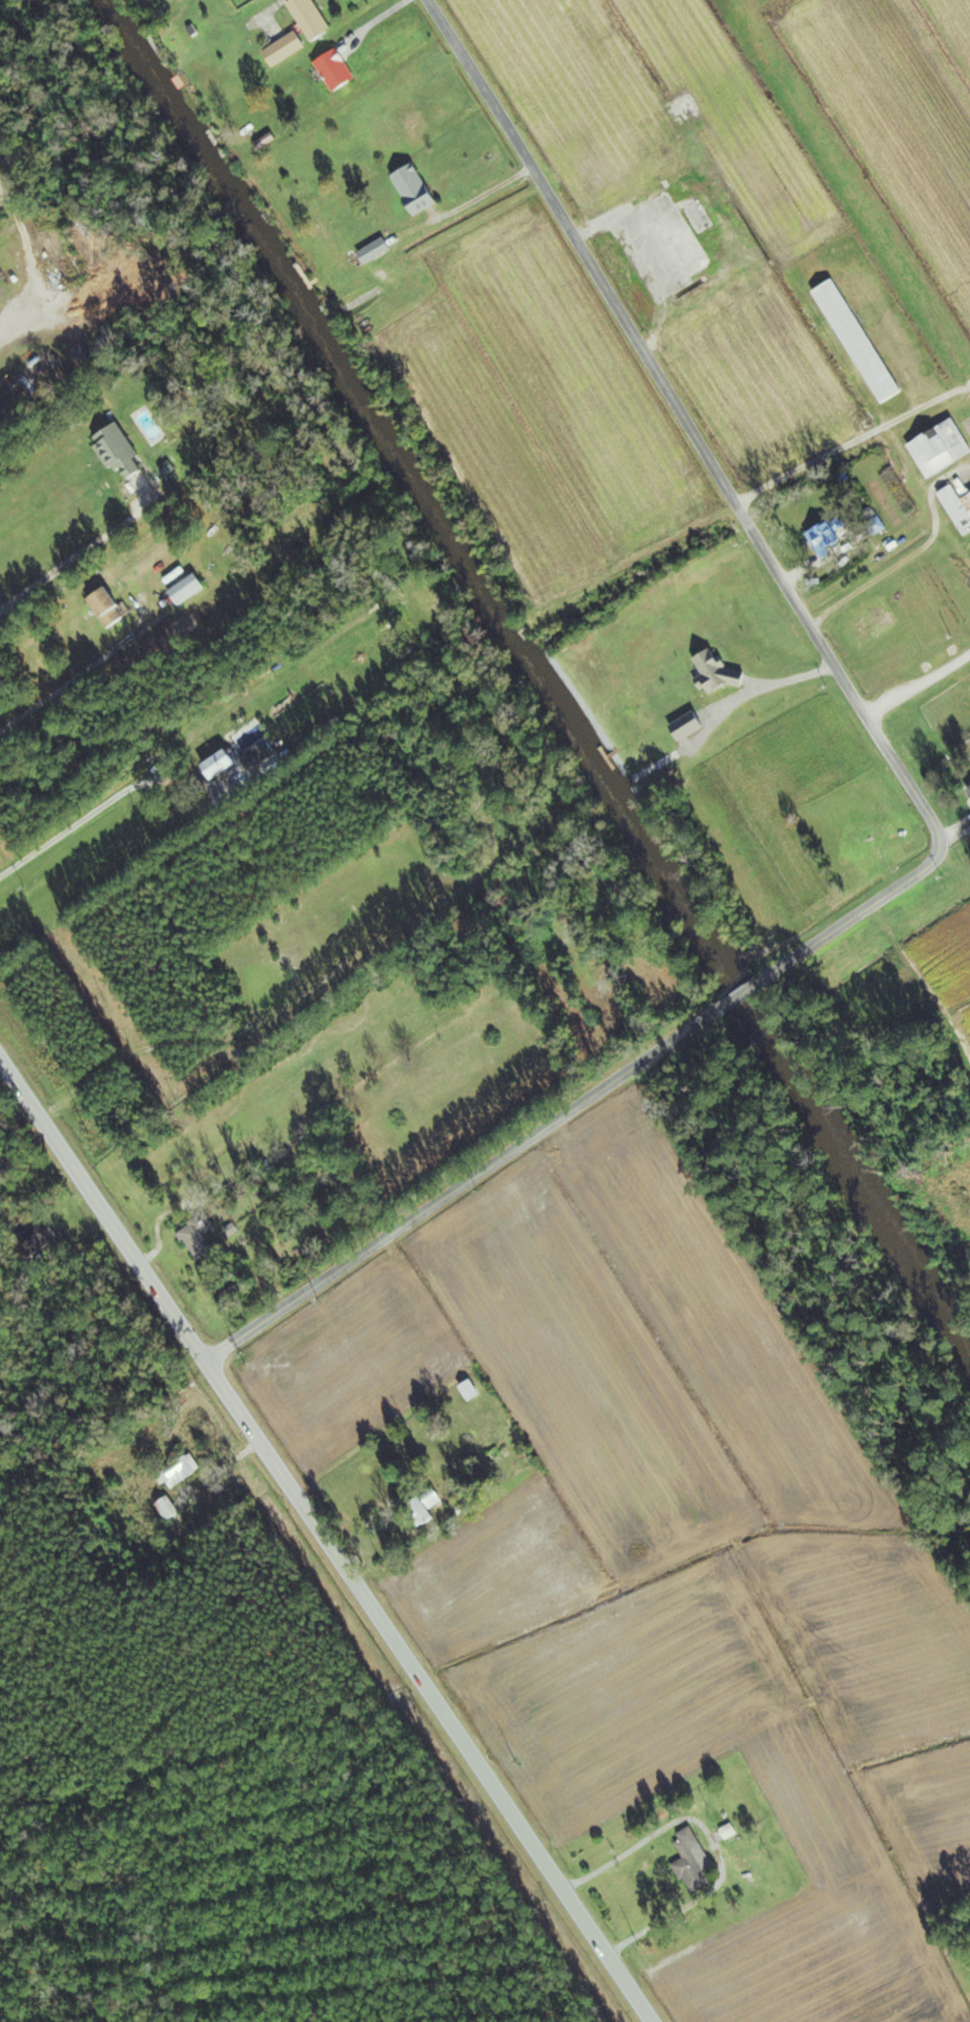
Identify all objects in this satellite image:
building: (314, 18)
building: (287, 49)
building: (339, 70)
building: (418, 189)
building: (378, 251)
road: (15, 318)
building: (860, 340)
building: (943, 447)
building: (122, 451)
building: (960, 502)
building: (832, 538)
building: (190, 588)
building: (111, 607)
road: (70, 682)
building: (243, 761)
road: (109, 802)
road: (924, 807)
building: (43, 1234)
building: (201, 1236)
building: (472, 1391)
building: (183, 1470)
building: (429, 1505)
building: (172, 1508)
road: (325, 1539)
road: (714, 1839)
building: (695, 1861)

